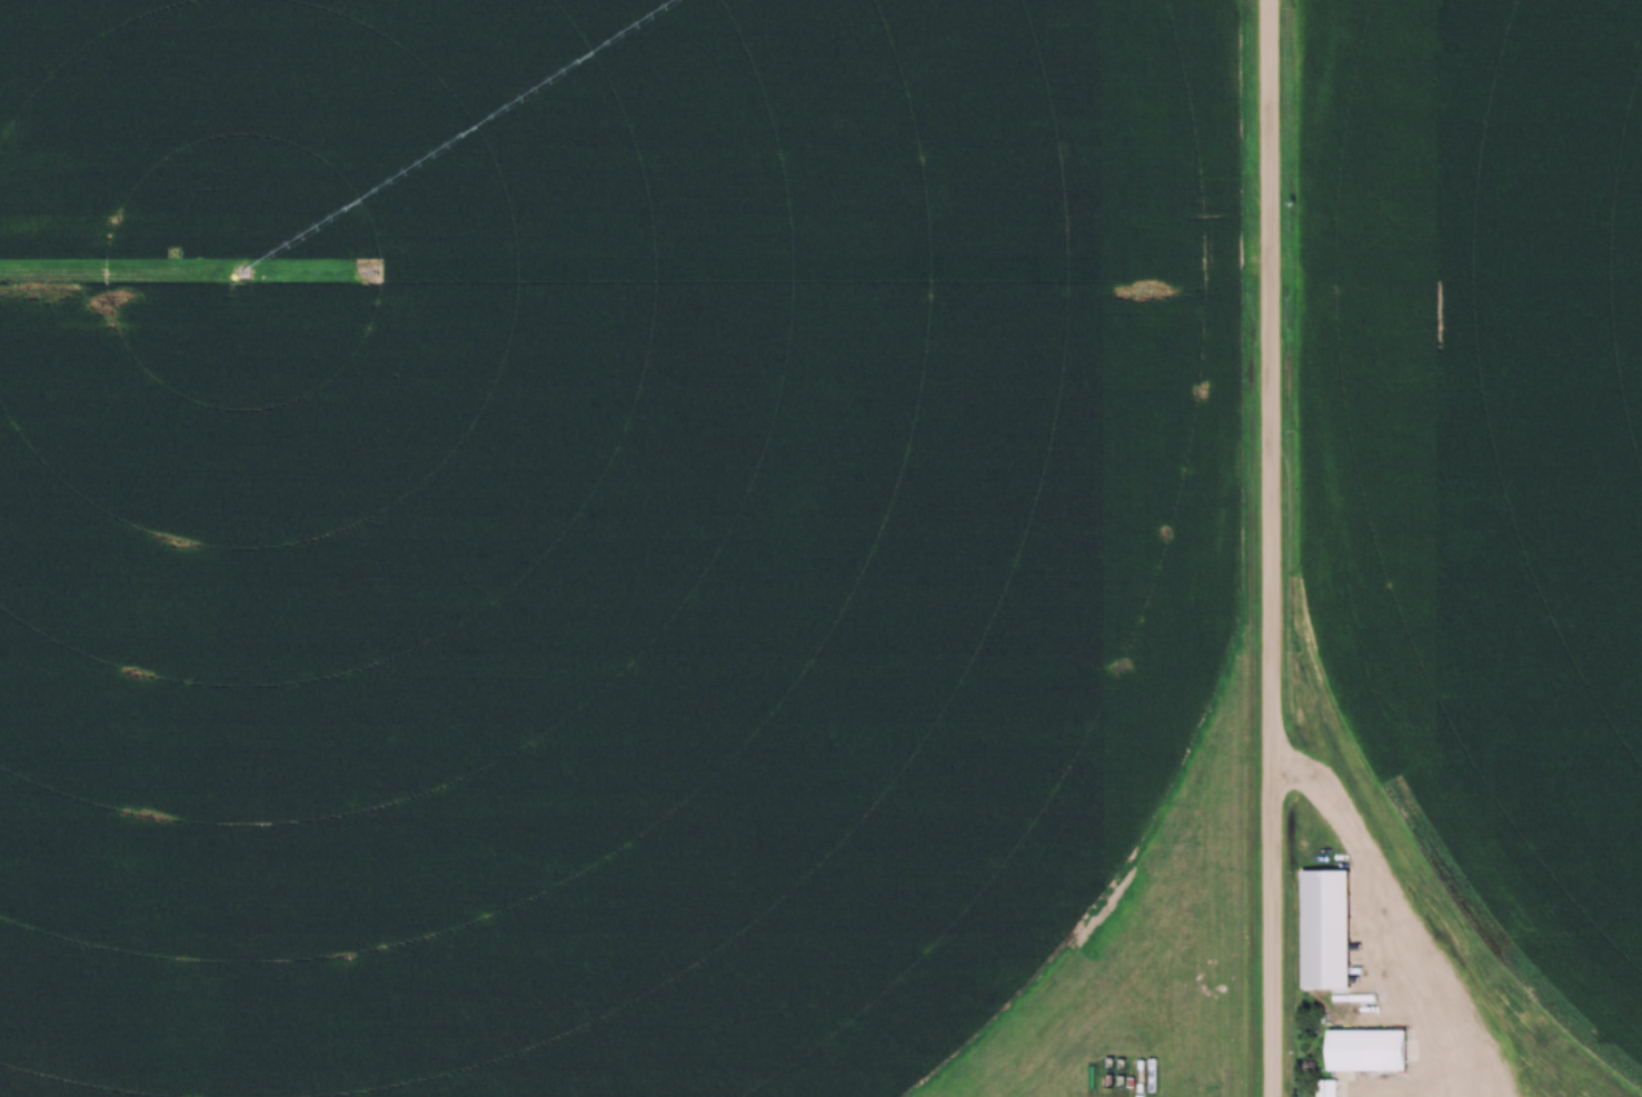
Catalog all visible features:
road: (1273, 548)
road: (1399, 925)
building: (1323, 926)
building: (1364, 1049)
building: (1328, 1089)

